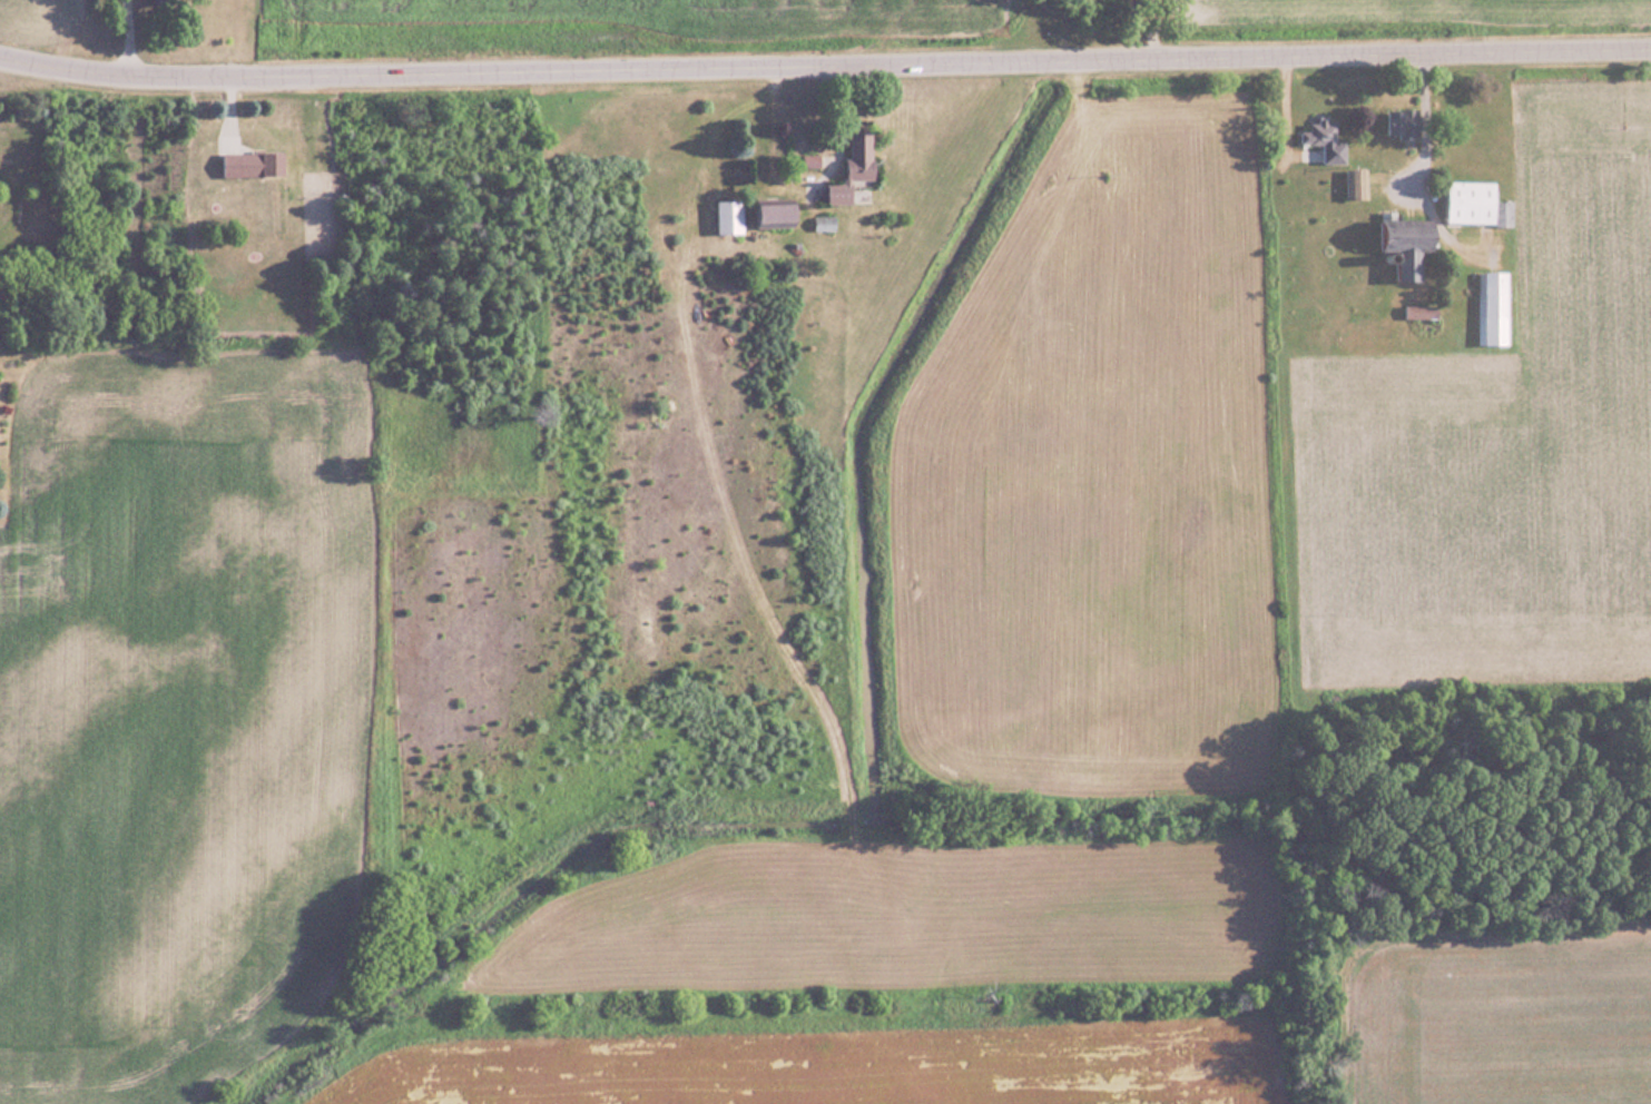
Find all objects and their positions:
road: (824, 67)
building: (1395, 122)
building: (1317, 142)
building: (255, 162)
building: (857, 166)
building: (1353, 184)
building: (1470, 204)
building: (733, 215)
building: (1395, 244)
building: (1492, 307)

